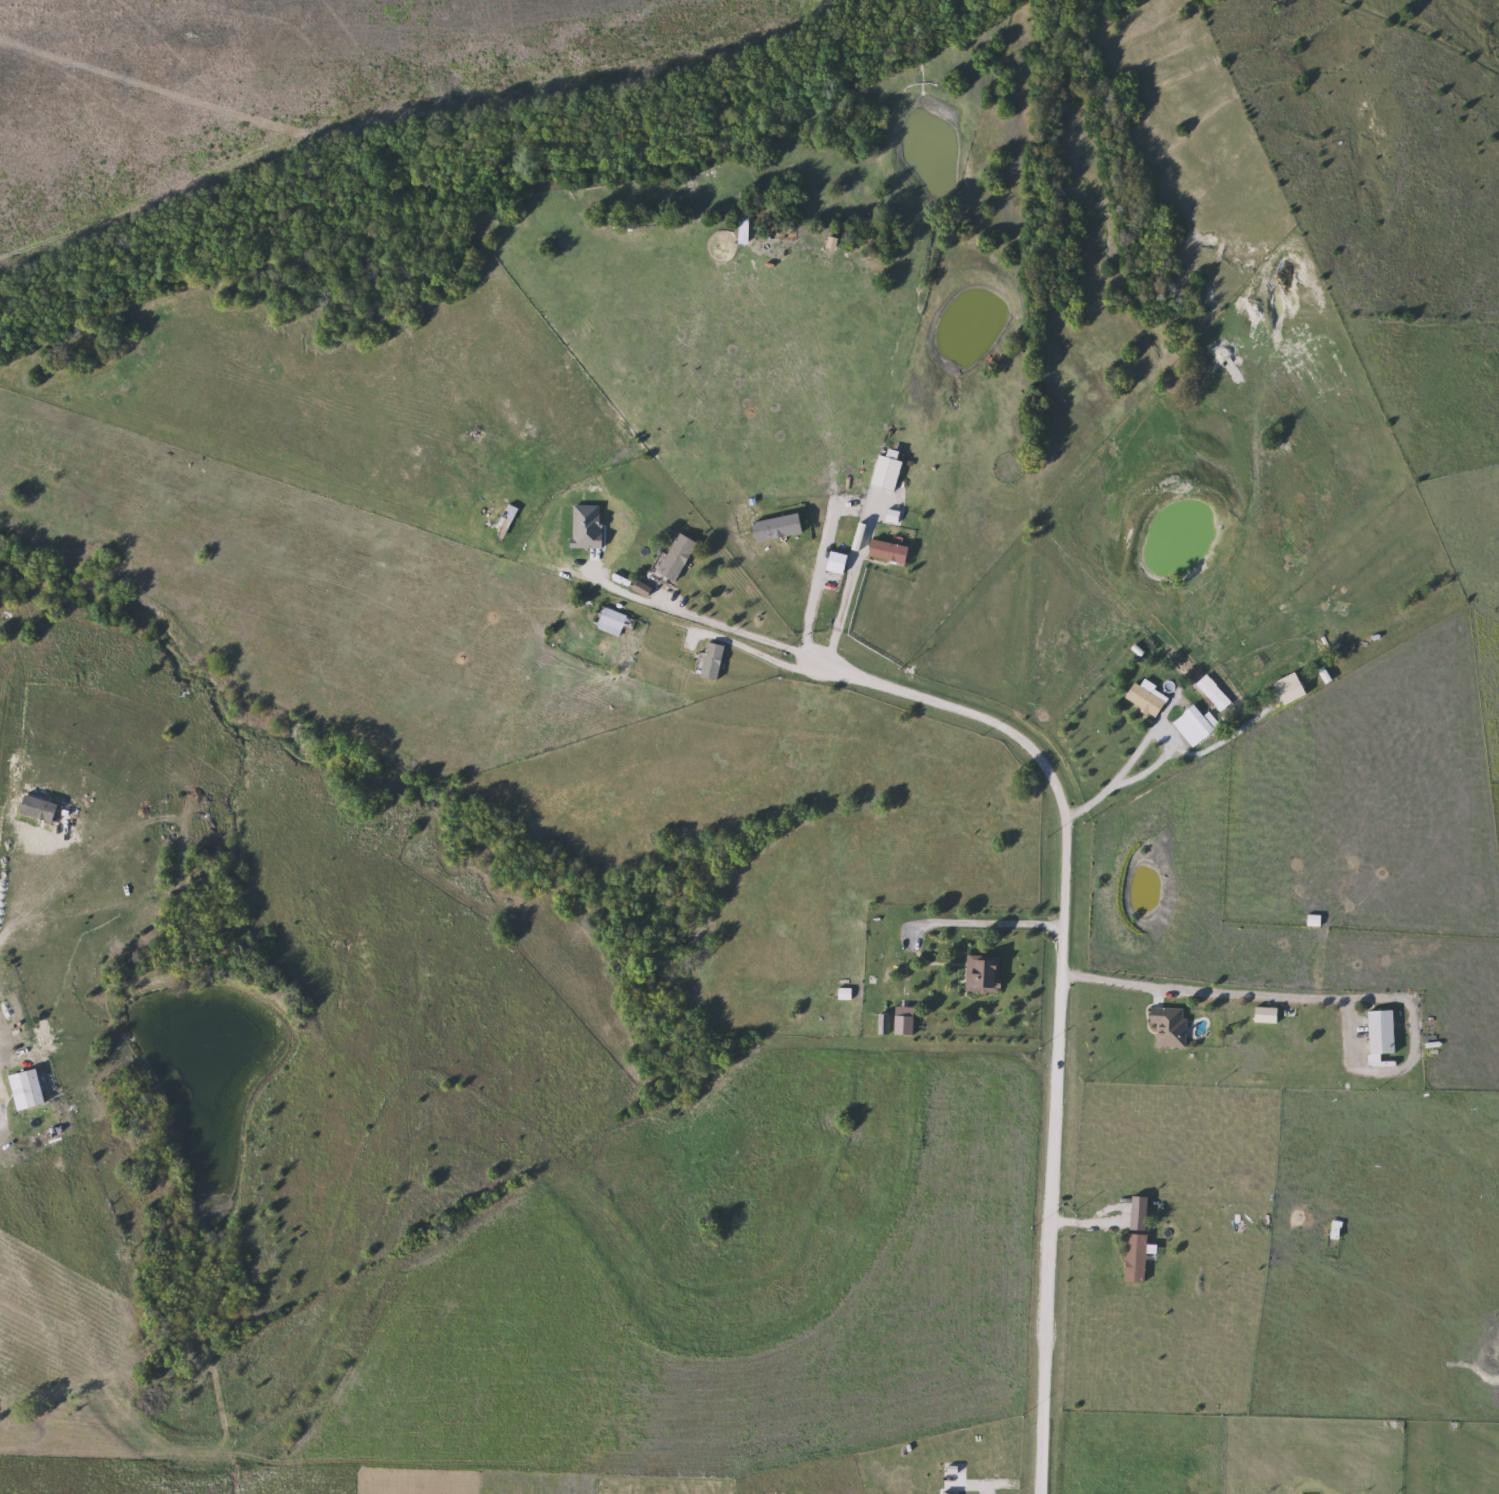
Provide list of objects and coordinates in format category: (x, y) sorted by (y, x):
building: (889, 470)
building: (890, 551)
building: (680, 557)
road: (817, 586)
road: (849, 586)
building: (613, 621)
road: (741, 632)
road: (758, 653)
building: (714, 662)
building: (1213, 692)
building: (1147, 700)
building: (1204, 721)
road: (1106, 790)
building: (1315, 921)
road: (978, 923)
building: (986, 974)
road: (1202, 990)
road: (1058, 1001)
building: (869, 1026)
building: (1171, 1027)
building: (1384, 1033)
building: (1138, 1258)

